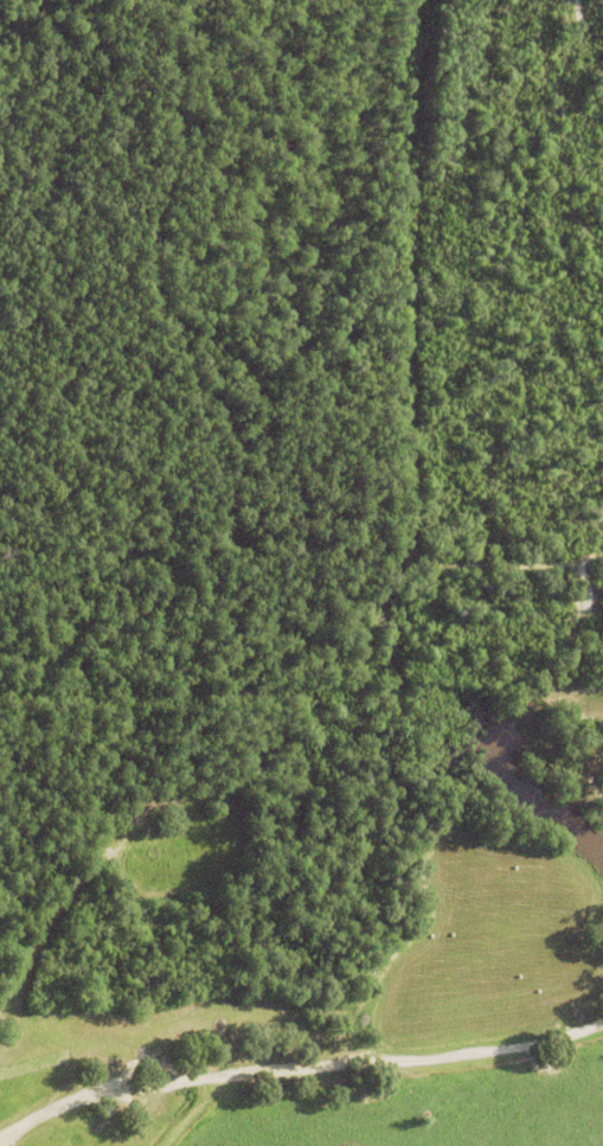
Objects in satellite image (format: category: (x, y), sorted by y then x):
road: (297, 1069)

